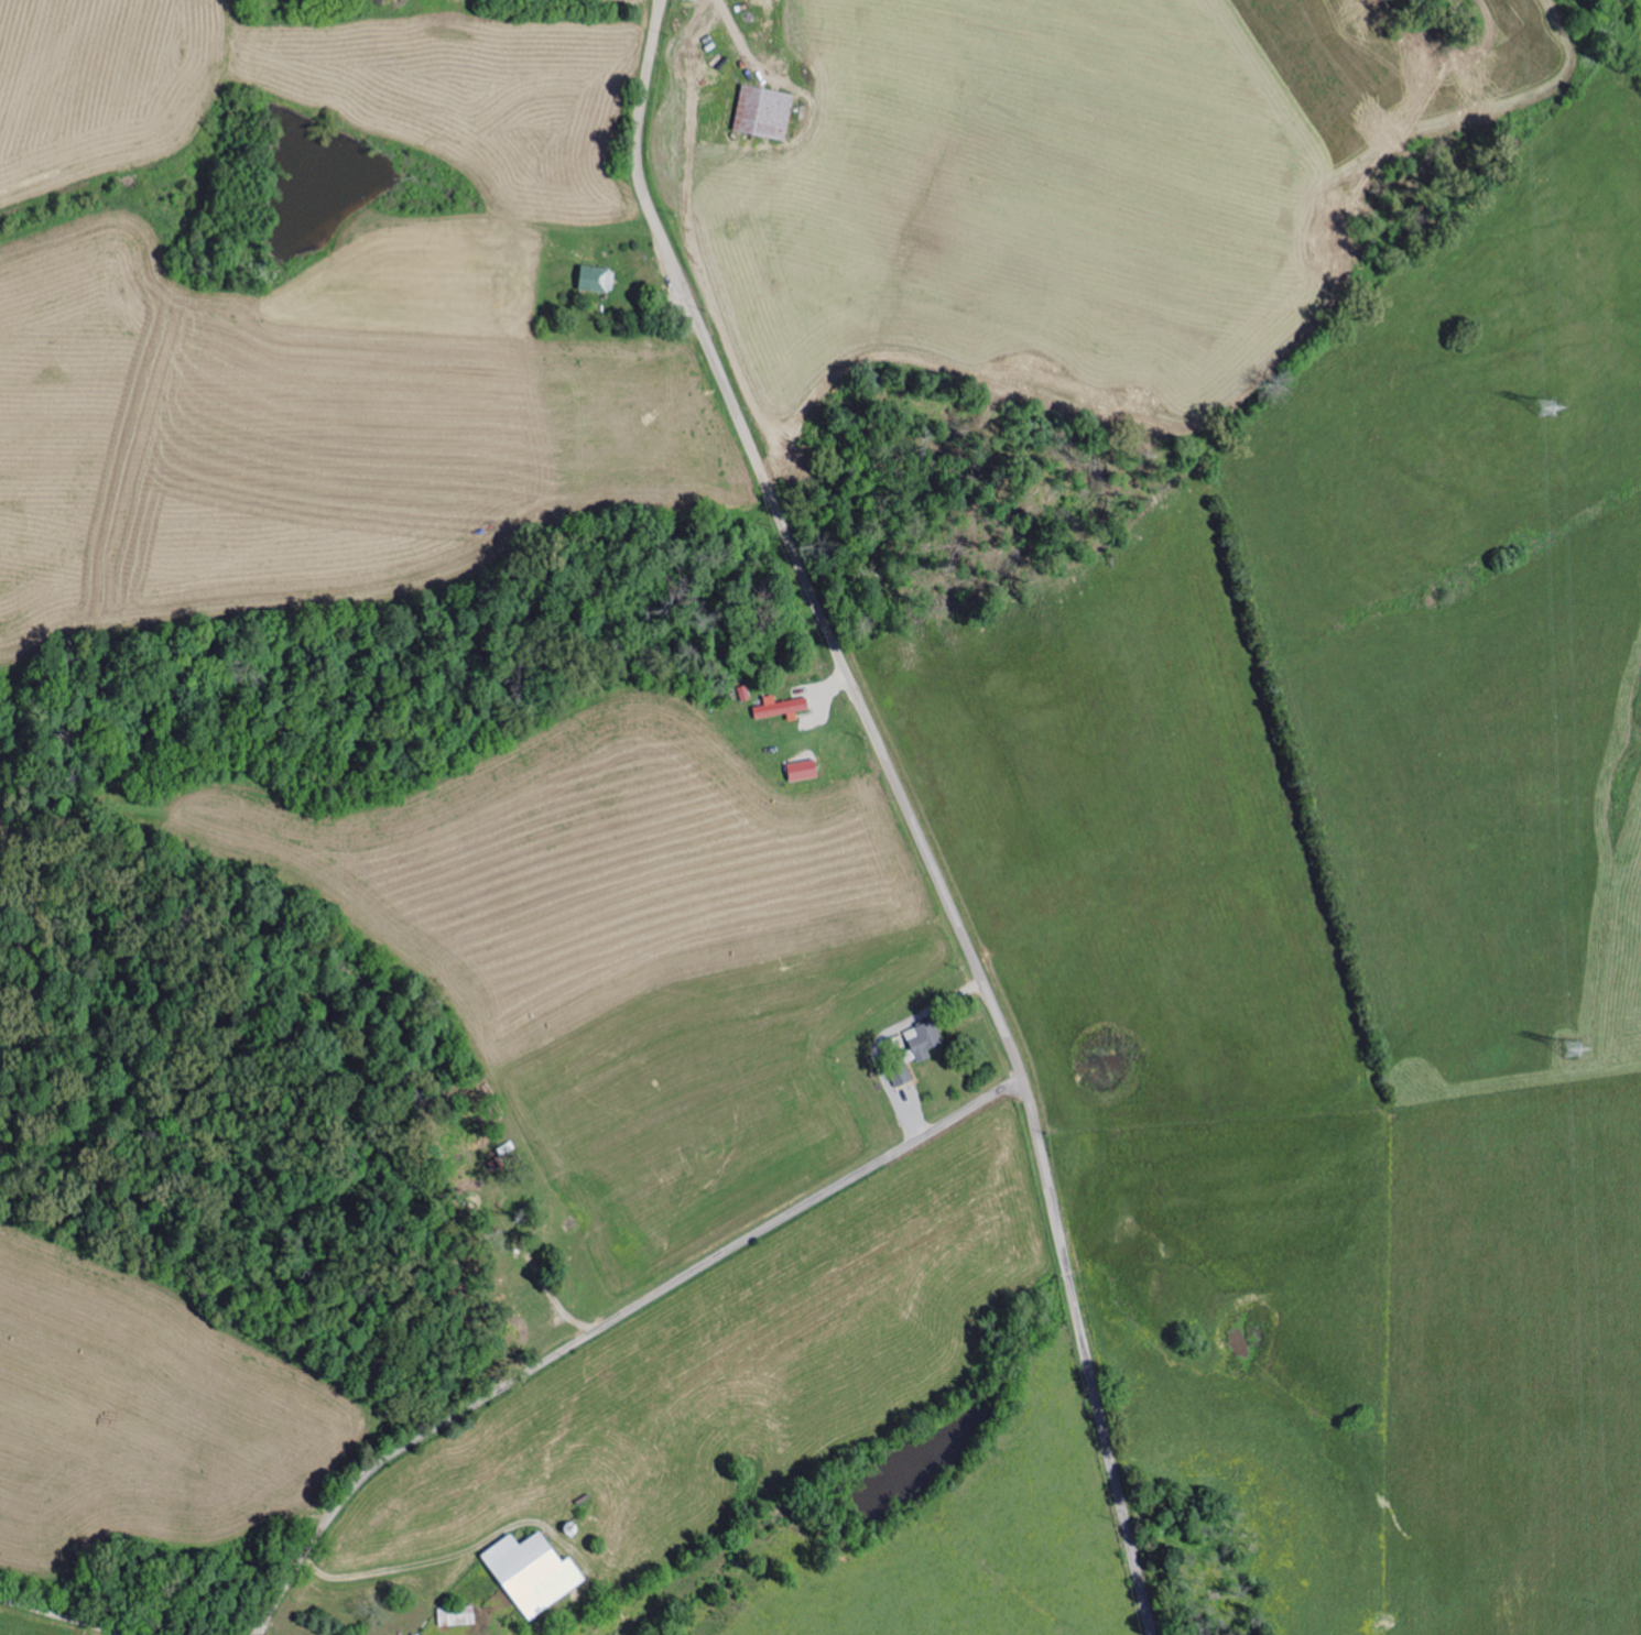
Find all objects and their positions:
building: (764, 111)
building: (597, 280)
building: (782, 708)
building: (804, 771)
road: (906, 807)
building: (925, 1039)
road: (540, 1275)
road: (607, 1323)
building: (535, 1571)
road: (58, 1616)

